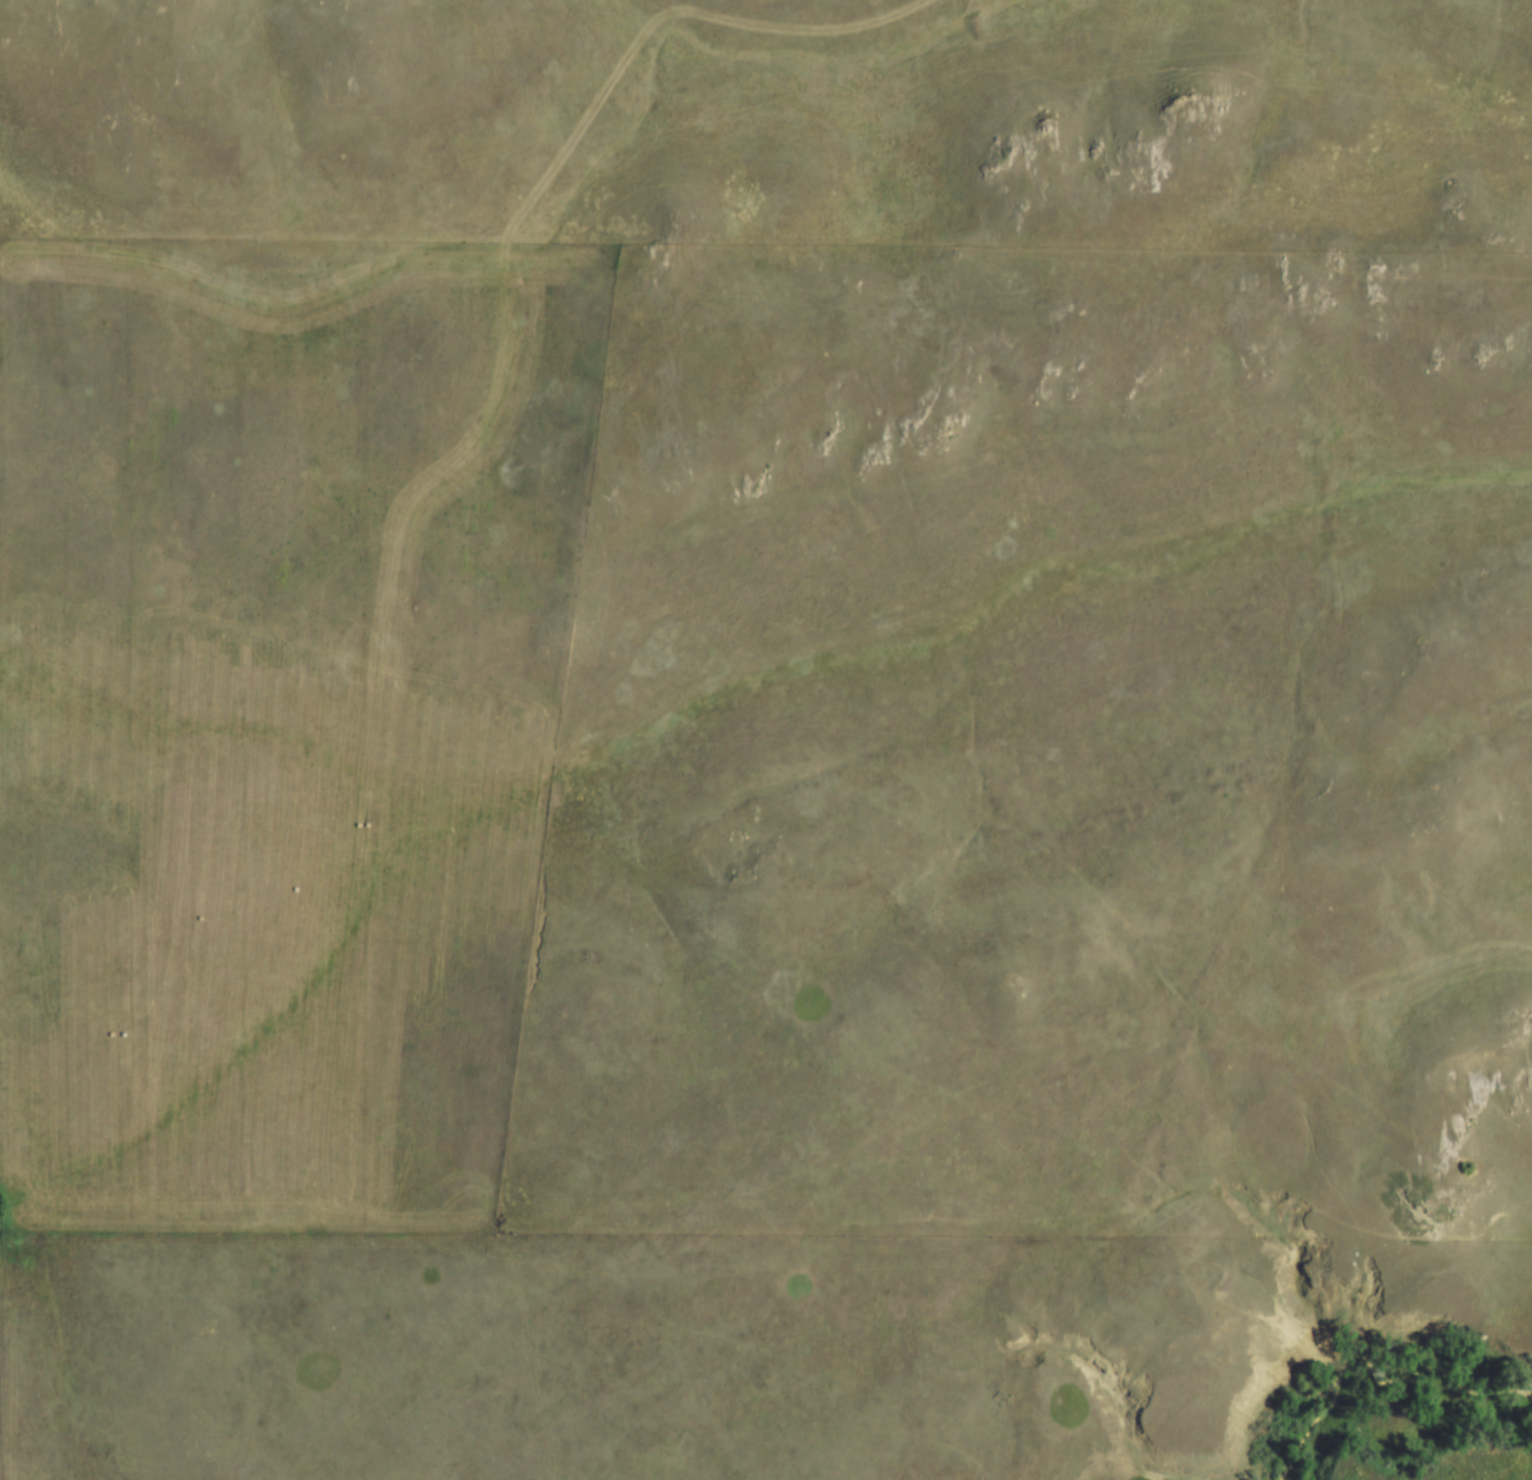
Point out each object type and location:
road: (793, 32)

